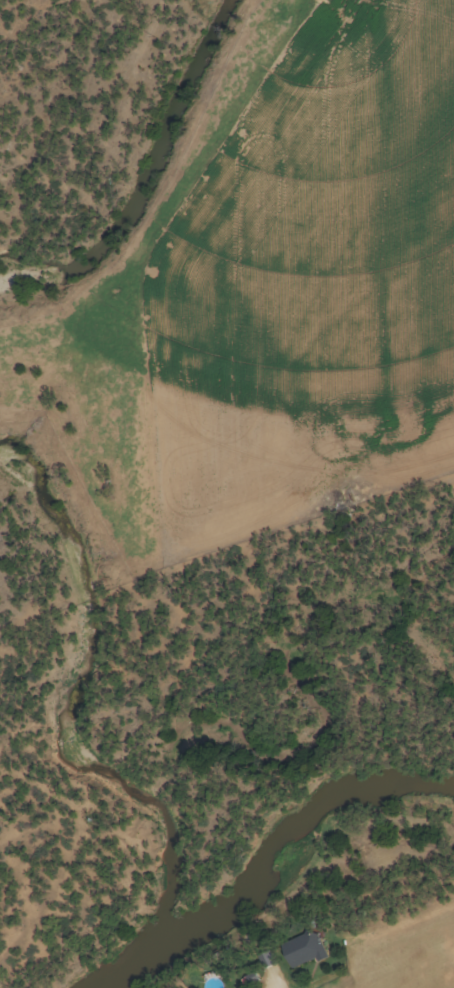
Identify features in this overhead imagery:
building: (312, 948)

